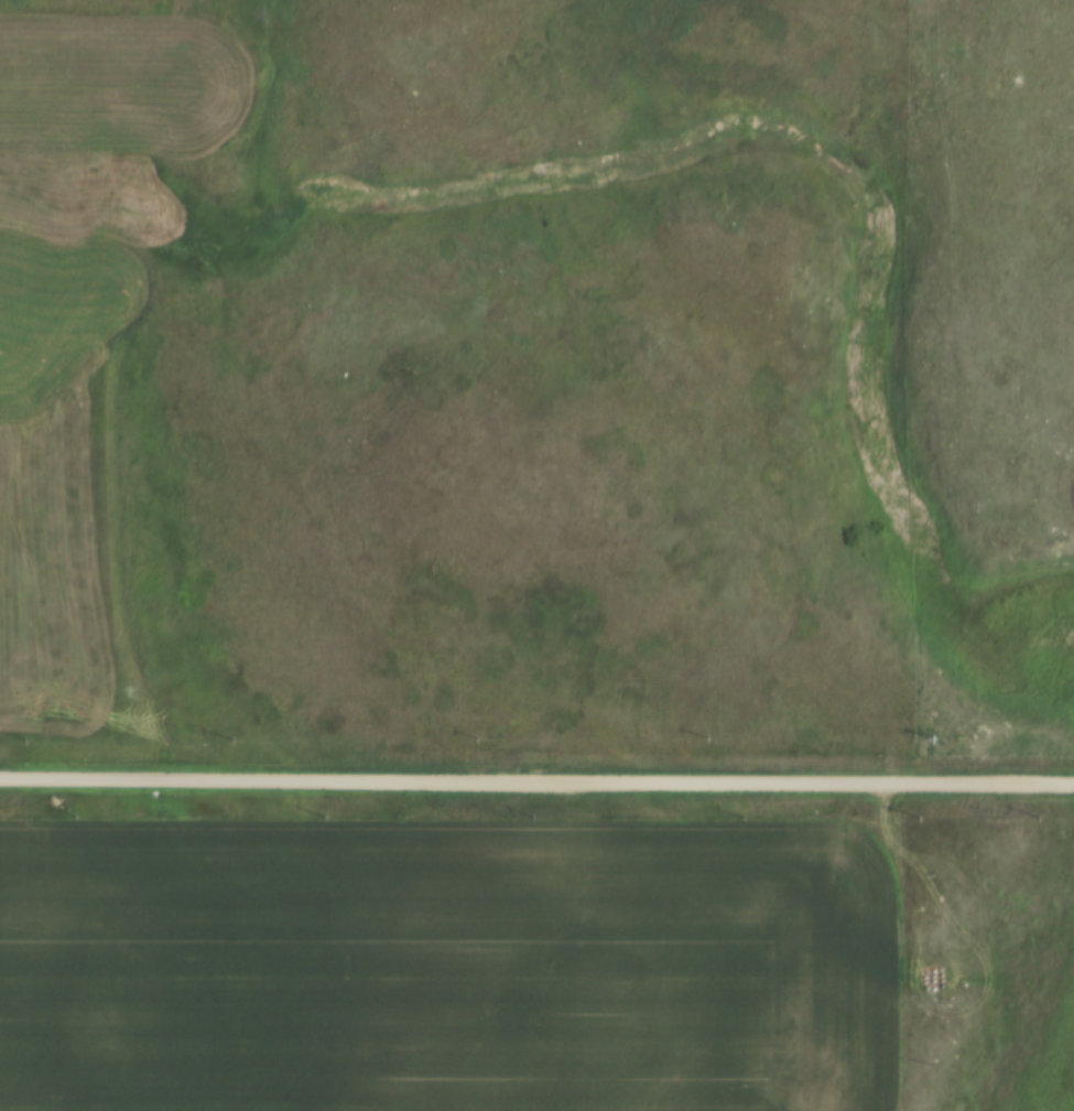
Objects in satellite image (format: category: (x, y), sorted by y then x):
road: (536, 780)

